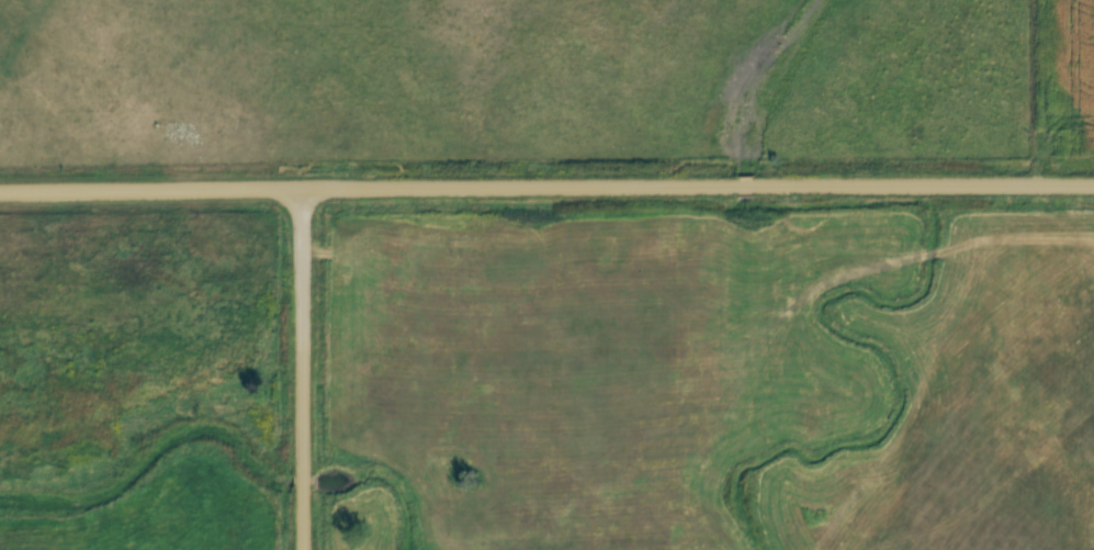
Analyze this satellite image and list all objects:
road: (925, 188)
road: (747, 189)
road: (369, 190)
road: (306, 370)

